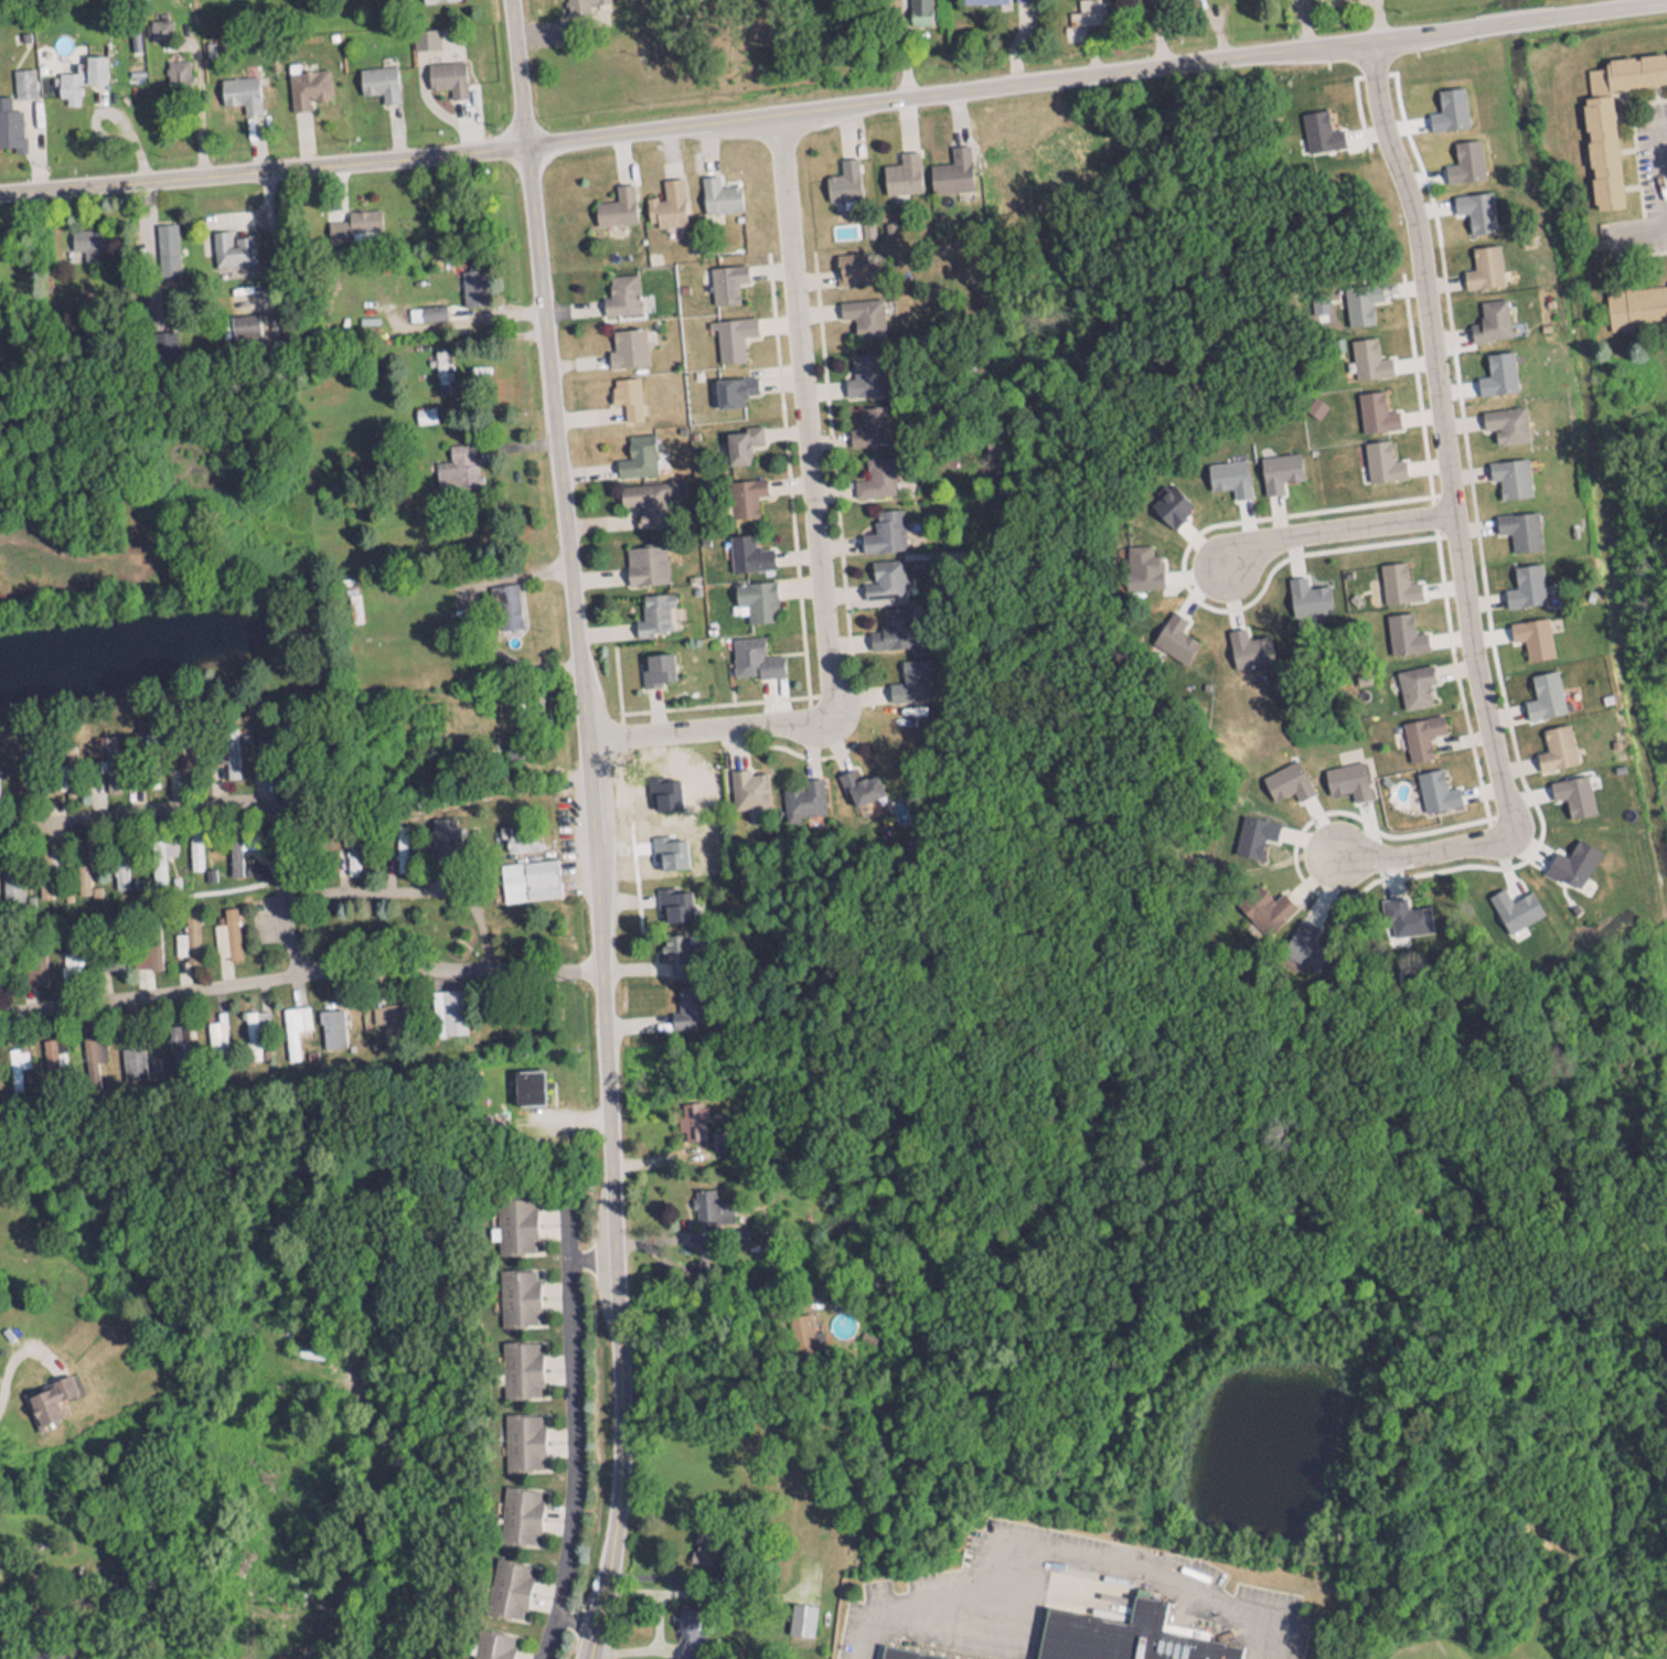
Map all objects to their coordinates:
road: (1316, 4)
road: (1656, 4)
road: (1379, 21)
road: (1157, 34)
building: (1629, 64)
building: (446, 71)
building: (78, 73)
building: (377, 76)
building: (21, 77)
building: (308, 82)
building: (238, 88)
road: (834, 110)
building: (9, 120)
building: (951, 164)
building: (900, 167)
building: (842, 174)
road: (1661, 179)
building: (717, 189)
building: (665, 197)
building: (615, 201)
building: (351, 211)
building: (164, 235)
building: (232, 242)
building: (1482, 261)
building: (849, 263)
building: (725, 276)
building: (620, 288)
building: (425, 307)
building: (861, 310)
building: (1488, 314)
building: (242, 319)
building: (731, 329)
building: (626, 341)
building: (441, 352)
building: (1366, 353)
building: (859, 370)
building: (733, 388)
building: (626, 390)
building: (1503, 417)
building: (866, 420)
building: (739, 436)
building: (635, 450)
building: (1380, 456)
building: (457, 461)
building: (1278, 464)
building: (873, 471)
building: (1508, 471)
building: (740, 491)
building: (644, 496)
road: (1453, 516)
building: (1516, 523)
building: (884, 525)
road: (1334, 528)
road: (814, 537)
building: (747, 547)
building: (643, 559)
building: (883, 572)
building: (1397, 577)
building: (1522, 580)
building: (754, 595)
building: (503, 599)
building: (653, 608)
building: (890, 623)
building: (1172, 632)
building: (752, 651)
building: (654, 663)
building: (1413, 679)
building: (1542, 689)
building: (1420, 728)
building: (1553, 742)
building: (861, 783)
road: (136, 820)
road: (589, 828)
building: (1252, 831)
building: (398, 842)
building: (538, 869)
road: (408, 901)
building: (1264, 901)
building: (225, 931)
building: (189, 936)
road: (539, 977)
road: (309, 978)
road: (148, 996)
building: (446, 1005)
building: (292, 1021)
building: (249, 1028)
building: (13, 1061)
building: (527, 1080)
building: (691, 1115)
building: (707, 1201)
building: (515, 1220)
road: (565, 1257)
building: (516, 1292)
road: (705, 1318)
building: (520, 1363)
road: (6, 1373)
building: (522, 1436)
road: (573, 1459)
building: (519, 1509)
building: (506, 1583)
road: (571, 1619)
building: (1162, 1633)
building: (491, 1641)
building: (1113, 1644)
building: (895, 1656)

